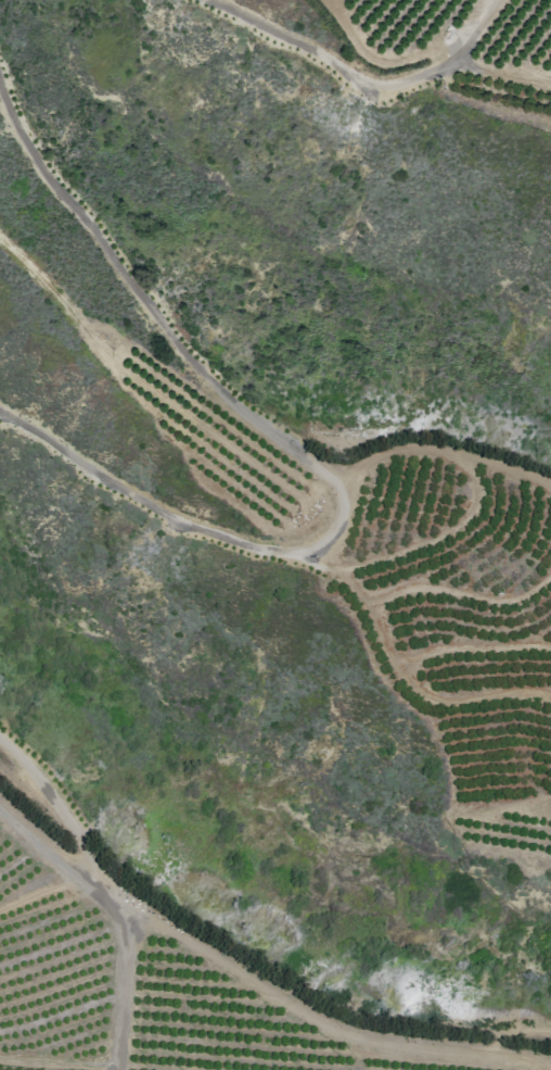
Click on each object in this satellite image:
road: (374, 59)
road: (498, 77)
road: (359, 81)
road: (438, 457)
road: (298, 461)
road: (440, 545)
road: (461, 602)
road: (473, 656)
road: (405, 682)
road: (548, 811)
road: (503, 814)
road: (38, 844)
road: (100, 886)
road: (37, 893)
road: (312, 1018)
road: (510, 1031)
road: (59, 1063)

